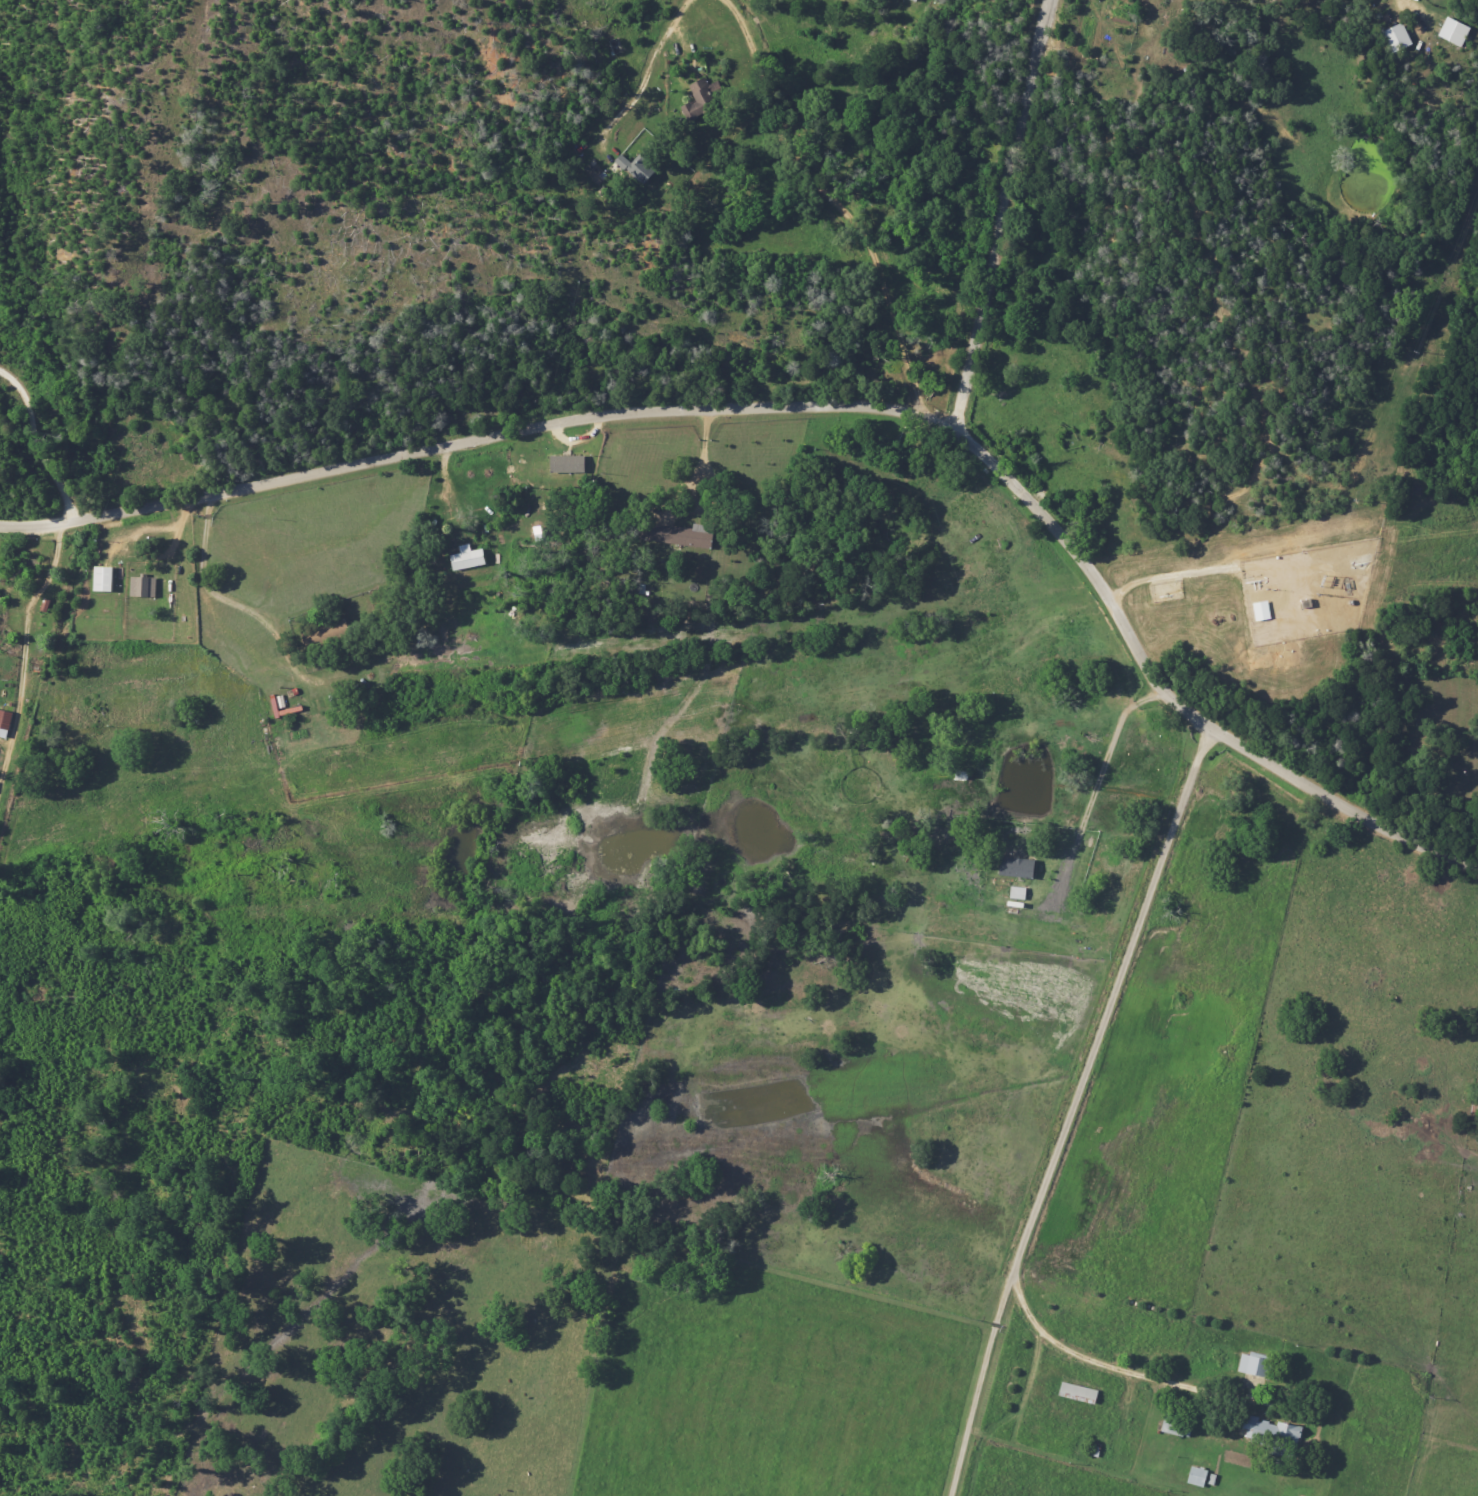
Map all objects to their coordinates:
building: (915, 0)
road: (1414, 6)
building: (1454, 31)
building: (1397, 37)
road: (653, 68)
building: (636, 168)
road: (844, 203)
road: (1000, 218)
road: (821, 415)
road: (39, 456)
road: (704, 460)
building: (568, 463)
building: (683, 535)
building: (467, 557)
road: (1196, 570)
building: (103, 579)
road: (206, 583)
building: (143, 587)
building: (1261, 610)
road: (24, 661)
building: (5, 722)
road: (1101, 776)
building: (1016, 867)
building: (1018, 892)
road: (1108, 1012)
building: (1254, 1365)
road: (1145, 1371)
road: (978, 1395)
building: (1272, 1434)

